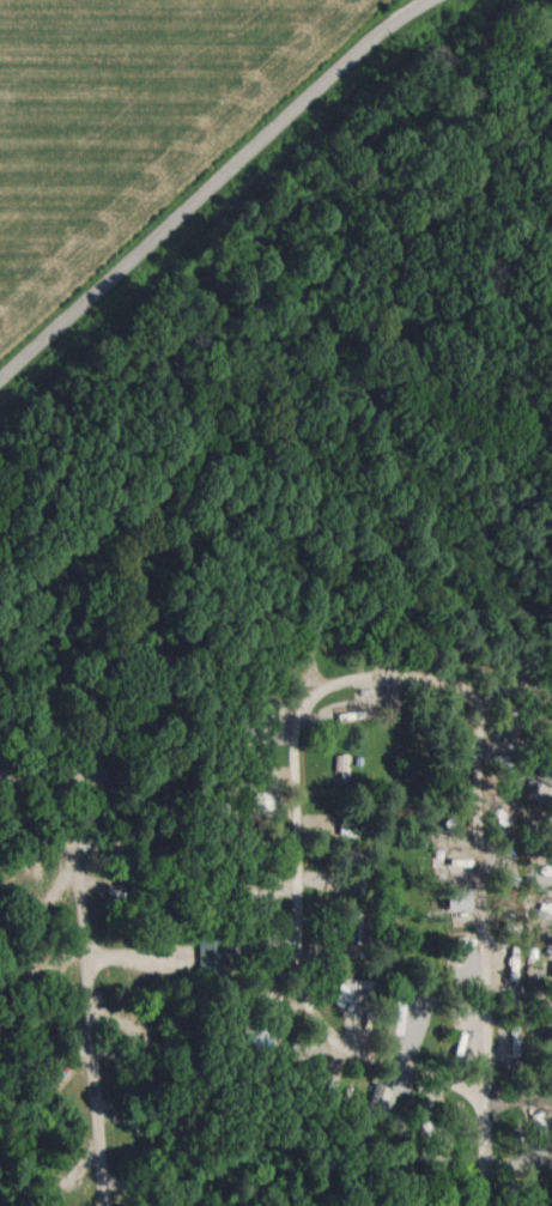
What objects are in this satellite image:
road: (211, 186)
road: (508, 668)
building: (370, 739)
building: (534, 775)
park: (281, 866)
road: (298, 877)
road: (483, 886)
building: (356, 926)
building: (207, 955)
road: (89, 968)
building: (344, 993)
road: (518, 1096)
road: (481, 1153)

